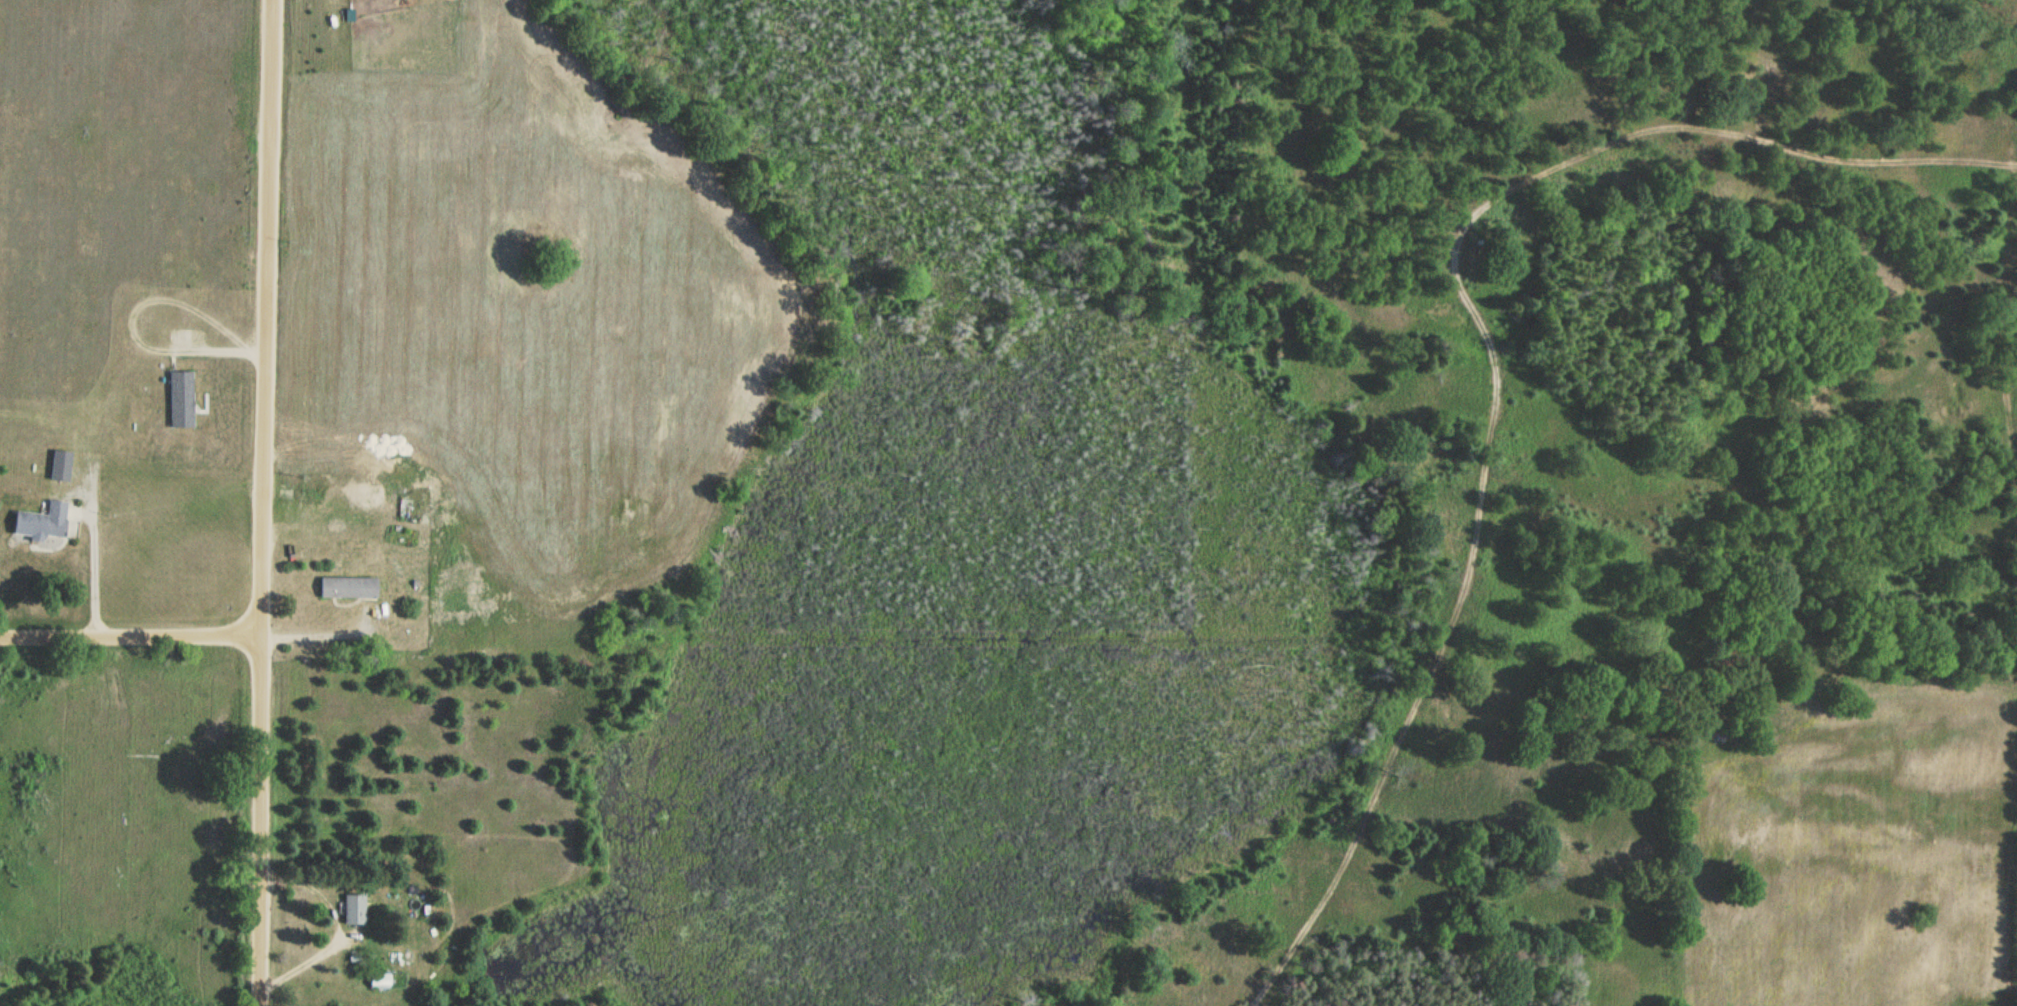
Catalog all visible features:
road: (129, 324)
road: (1492, 346)
building: (180, 397)
building: (60, 462)
road: (91, 487)
road: (262, 502)
building: (41, 518)
road: (94, 563)
building: (345, 583)
road: (129, 636)
road: (322, 636)
building: (352, 907)
road: (336, 928)
road: (348, 935)
building: (378, 978)

